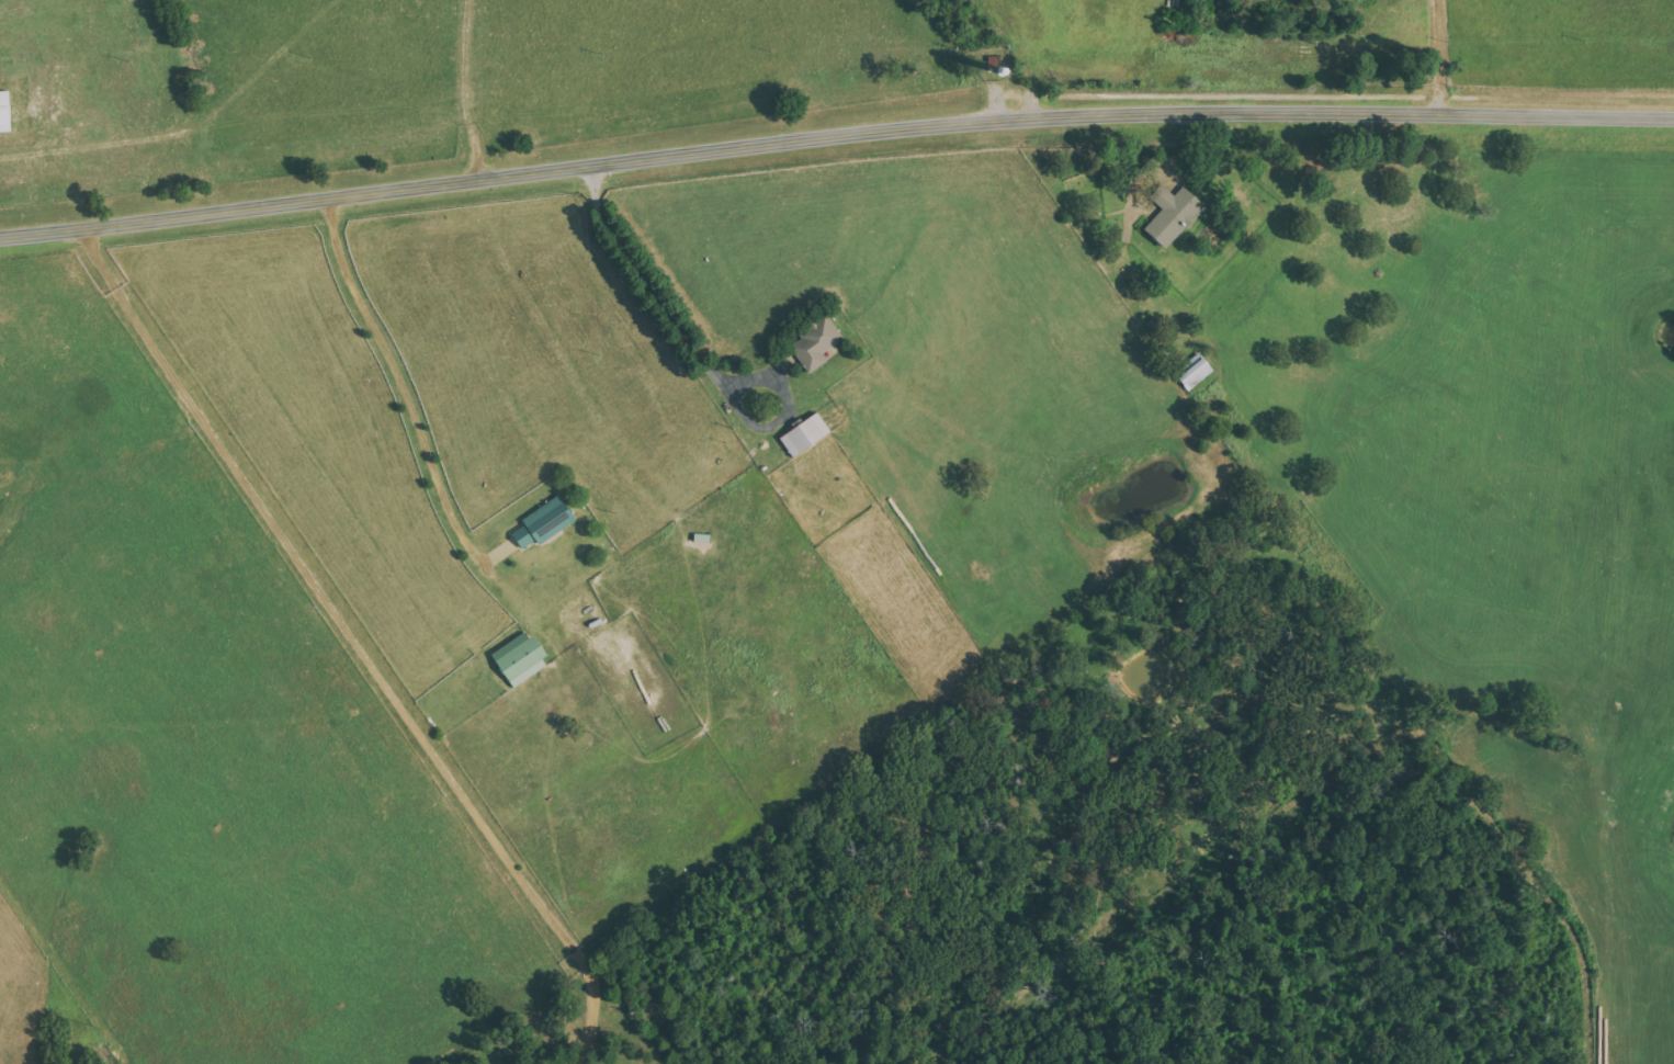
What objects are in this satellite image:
road: (834, 128)
building: (1175, 214)
building: (818, 342)
building: (1197, 370)
building: (807, 433)
building: (546, 521)
building: (523, 658)

